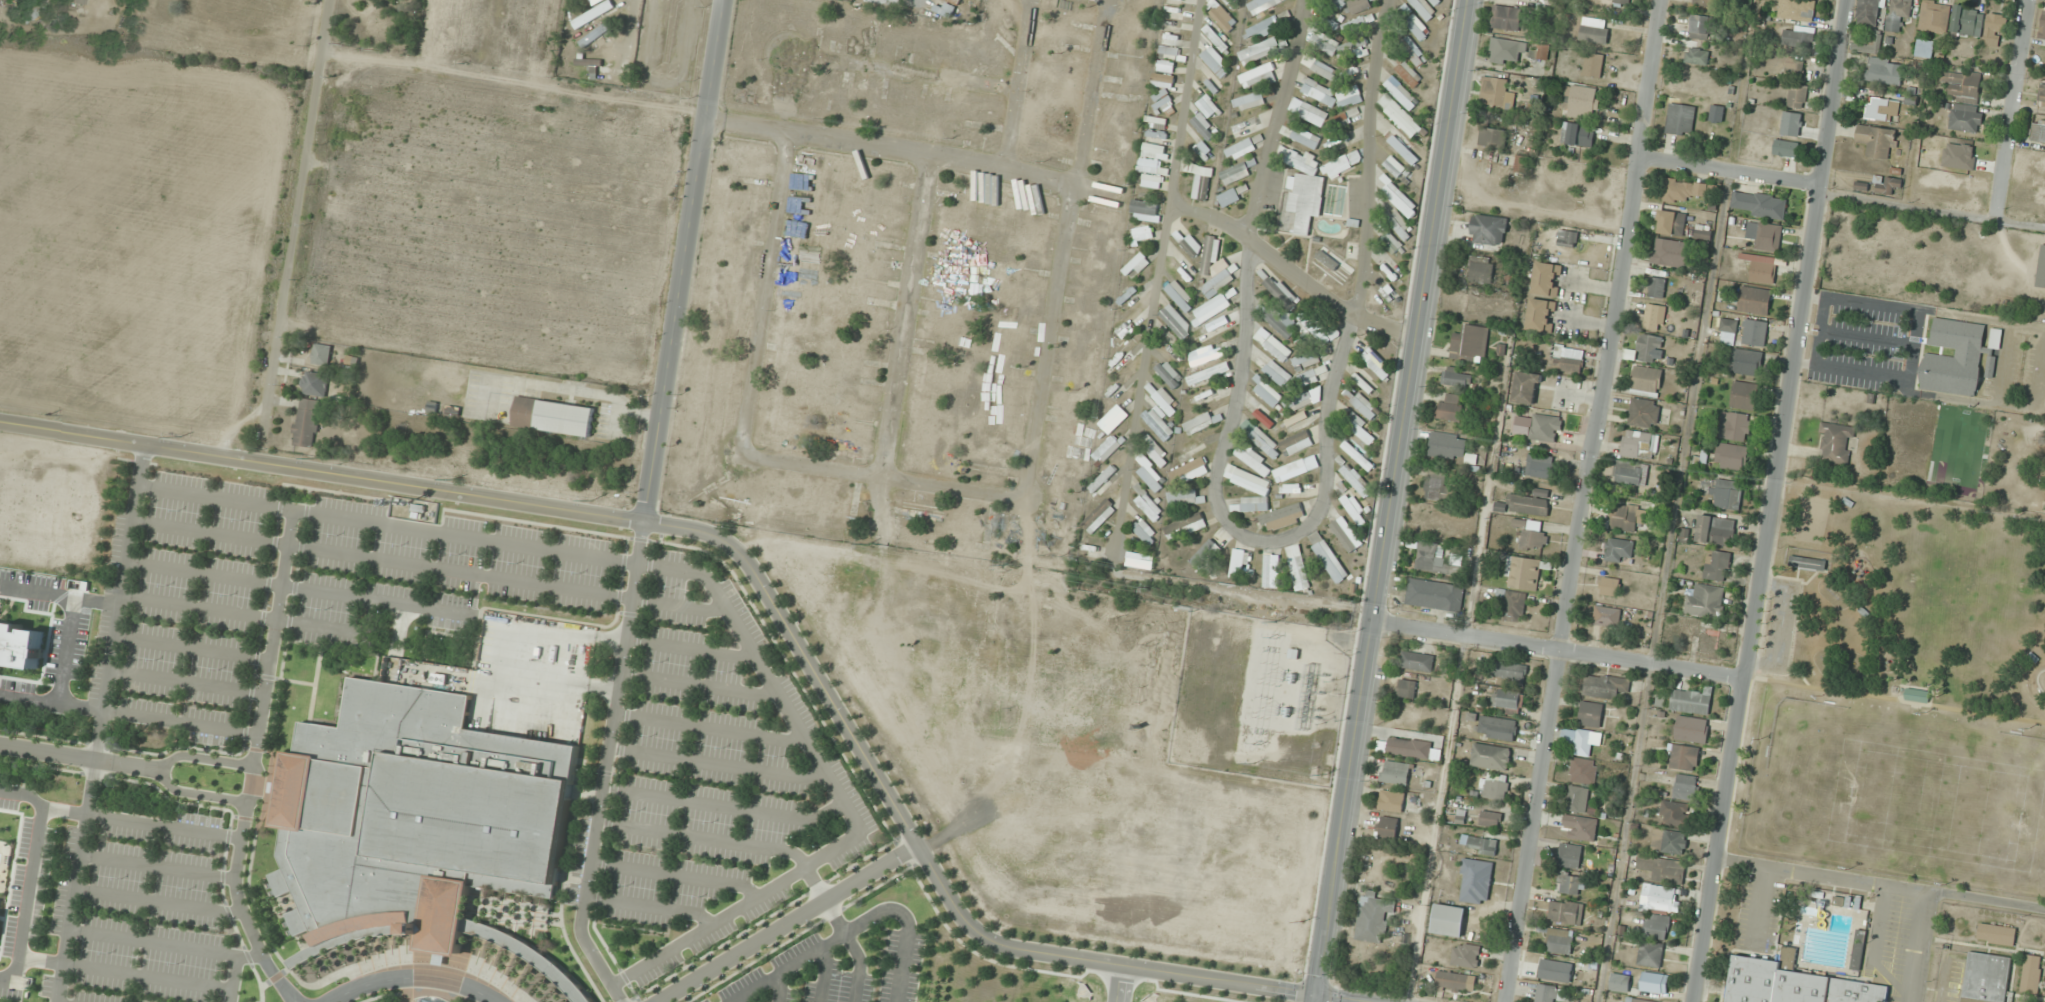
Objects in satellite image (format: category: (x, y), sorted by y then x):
building: (871, 1)
building: (956, 1)
building: (1435, 1)
building: (1622, 1)
building: (76, 2)
building: (1232, 3)
building: (1708, 3)
building: (1261, 5)
building: (1423, 9)
building: (1796, 9)
building: (1172, 12)
building: (1868, 12)
building: (1898, 13)
building: (1935, 16)
building: (587, 17)
building: (1223, 17)
building: (1507, 17)
building: (1325, 19)
building: (1967, 20)
building: (1358, 23)
building: (1701, 26)
building: (1264, 27)
building: (1417, 27)
building: (1995, 27)
building: (1594, 29)
building: (2042, 32)
building: (596, 34)
building: (1798, 38)
building: (1219, 39)
building: (1170, 44)
building: (1340, 44)
building: (1924, 47)
building: (1259, 50)
building: (1516, 50)
building: (1412, 51)
building: (1697, 56)
building: (1216, 62)
building: (589, 63)
building: (1592, 64)
building: (1324, 69)
building: (1885, 71)
road: (902, 72)
building: (1408, 73)
building: (1257, 75)
building: (1689, 79)
building: (1163, 80)
building: (1962, 83)
building: (1211, 84)
road: (1019, 85)
building: (1493, 91)
building: (1328, 93)
road: (1094, 94)
building: (2042, 95)
building: (1797, 96)
building: (1581, 99)
building: (1162, 101)
building: (1249, 101)
building: (1208, 107)
building: (1882, 109)
road: (2013, 109)
building: (1308, 111)
building: (1716, 113)
building: (1399, 115)
building: (1967, 118)
building: (1680, 119)
building: (1157, 122)
building: (1247, 126)
building: (1204, 127)
building: (1578, 135)
building: (1305, 137)
building: (1492, 137)
building: (1343, 139)
building: (1877, 141)
building: (1155, 143)
building: (1400, 145)
building: (1243, 147)
building: (1785, 148)
road: (913, 152)
building: (1343, 164)
building: (1520, 165)
building: (1395, 166)
road: (1730, 172)
building: (1153, 173)
building: (1235, 173)
building: (1202, 183)
building: (1885, 184)
building: (1304, 187)
building: (1679, 190)
building: (1229, 197)
building: (1400, 199)
building: (1336, 200)
building: (1758, 204)
building: (1144, 210)
building: (1671, 222)
building: (1400, 225)
building: (1489, 229)
road: (299, 231)
building: (1769, 236)
building: (1567, 238)
building: (1391, 242)
building: (1351, 250)
building: (1670, 252)
road: (685, 261)
building: (1136, 265)
building: (1332, 265)
building: (1182, 267)
building: (1760, 267)
building: (1481, 270)
road: (1295, 272)
road: (1161, 277)
building: (1546, 278)
building: (1217, 282)
building: (1656, 287)
building: (1180, 295)
road: (766, 296)
building: (1754, 300)
building: (1212, 307)
building: (1541, 315)
road: (906, 317)
building: (1654, 317)
building: (1129, 324)
building: (1297, 324)
building: (1215, 326)
building: (1728, 327)
building: (1754, 333)
building: (1995, 339)
building: (1470, 342)
road: (1051, 345)
building: (1277, 348)
building: (1649, 348)
building: (1209, 352)
building: (323, 354)
building: (1125, 354)
building: (1953, 358)
building: (1307, 359)
building: (1572, 361)
building: (1746, 362)
building: (1376, 363)
building: (1990, 367)
building: (1277, 372)
building: (1168, 373)
building: (1209, 374)
building: (1457, 379)
building: (1125, 380)
building: (1646, 380)
building: (316, 383)
building: (1526, 387)
building: (1268, 393)
building: (1744, 395)
building: (1304, 399)
building: (1166, 401)
building: (1361, 402)
building: (1451, 408)
building: (1643, 413)
building: (554, 416)
building: (1299, 421)
building: (308, 422)
building: (1109, 422)
building: (1158, 422)
building: (1199, 422)
building: (1737, 426)
building: (1359, 428)
building: (1545, 428)
building: (1261, 438)
building: (1297, 443)
building: (1835, 443)
building: (1448, 445)
building: (1639, 445)
building: (1107, 448)
building: (1155, 450)
building: (1731, 457)
building: (1540, 465)
building: (1296, 468)
building: (1190, 470)
building: (1150, 473)
building: (1631, 473)
road: (884, 479)
building: (1357, 480)
building: (1103, 481)
building: (1436, 484)
building: (1727, 495)
building: (1185, 496)
building: (1264, 498)
road: (1393, 500)
road: (1584, 500)
road: (1772, 501)
building: (1531, 503)
building: (1148, 504)
building: (1354, 509)
building: (1099, 516)
road: (884, 518)
building: (1628, 518)
road: (387, 524)
building: (1185, 525)
building: (1144, 530)
building: (1343, 530)
building: (1715, 531)
building: (1533, 536)
road: (1270, 539)
building: (1619, 549)
building: (1205, 551)
building: (1327, 557)
building: (1438, 558)
building: (1140, 559)
building: (1236, 563)
building: (1808, 563)
building: (1717, 565)
road: (429, 566)
building: (1298, 568)
building: (1269, 570)
building: (1525, 573)
road: (763, 586)
building: (1611, 586)
road: (38, 587)
road: (298, 587)
building: (1435, 594)
park: (1917, 596)
road: (98, 600)
road: (120, 601)
building: (1705, 601)
building: (1515, 606)
building: (1607, 616)
road: (260, 617)
power tower: (1273, 637)
building: (20, 644)
road: (688, 648)
road: (192, 649)
road: (1560, 650)
building: (1417, 661)
building: (1510, 670)
road: (62, 673)
road: (187, 683)
road: (698, 685)
building: (1604, 686)
building: (1407, 688)
building: (1917, 694)
power substation: (1259, 698)
building: (1507, 701)
building: (1691, 701)
road: (76, 705)
building: (1591, 714)
road: (181, 722)
building: (1497, 728)
road: (708, 729)
building: (1691, 729)
building: (1581, 740)
power tower: (1256, 744)
building: (1409, 747)
road: (48, 751)
road: (254, 757)
building: (1491, 757)
building: (1683, 757)
road: (717, 763)
road: (131, 764)
road: (604, 767)
road: (166, 770)
building: (1584, 770)
building: (1395, 772)
building: (1494, 787)
building: (1685, 791)
park: (1892, 791)
road: (841, 798)
building: (1578, 799)
building: (1391, 801)
road: (723, 807)
building: (1675, 813)
building: (1457, 817)
building: (1491, 819)
building: (418, 822)
road: (142, 823)
building: (1387, 827)
building: (1582, 827)
road: (702, 838)
building: (1669, 842)
building: (1481, 845)
building: (1571, 856)
road: (159, 867)
building: (1663, 869)
road: (32, 875)
road: (672, 876)
road: (78, 880)
building: (1475, 880)
building: (1571, 884)
building: (1021, 889)
building: (1661, 898)
building: (0, 902)
road: (161, 902)
road: (647, 906)
building: (1566, 912)
building: (1373, 918)
building: (1449, 920)
road: (784, 922)
road: (904, 926)
building: (1656, 926)
road: (842, 930)
building: (1996, 934)
building: (1560, 941)
road: (166, 945)
building: (1858, 950)
building: (1651, 954)
building: (1466, 955)
road: (785, 966)
building: (1556, 970)
road: (126, 972)
road: (824, 973)
building: (2031, 974)
road: (414, 976)
building: (1985, 977)
road: (235, 979)
building: (1452, 981)
building: (1620, 982)
building: (1654, 982)
road: (1118, 983)
building: (1792, 983)
road: (778, 987)
road: (414, 991)
building: (1552, 993)
park: (414, 996)
road: (290, 997)
road: (297, 997)
road: (410, 997)
traffic signals: (1321, 997)
road: (393, 998)
road: (739, 998)
building: (1637, 1000)
road: (459, 1001)

